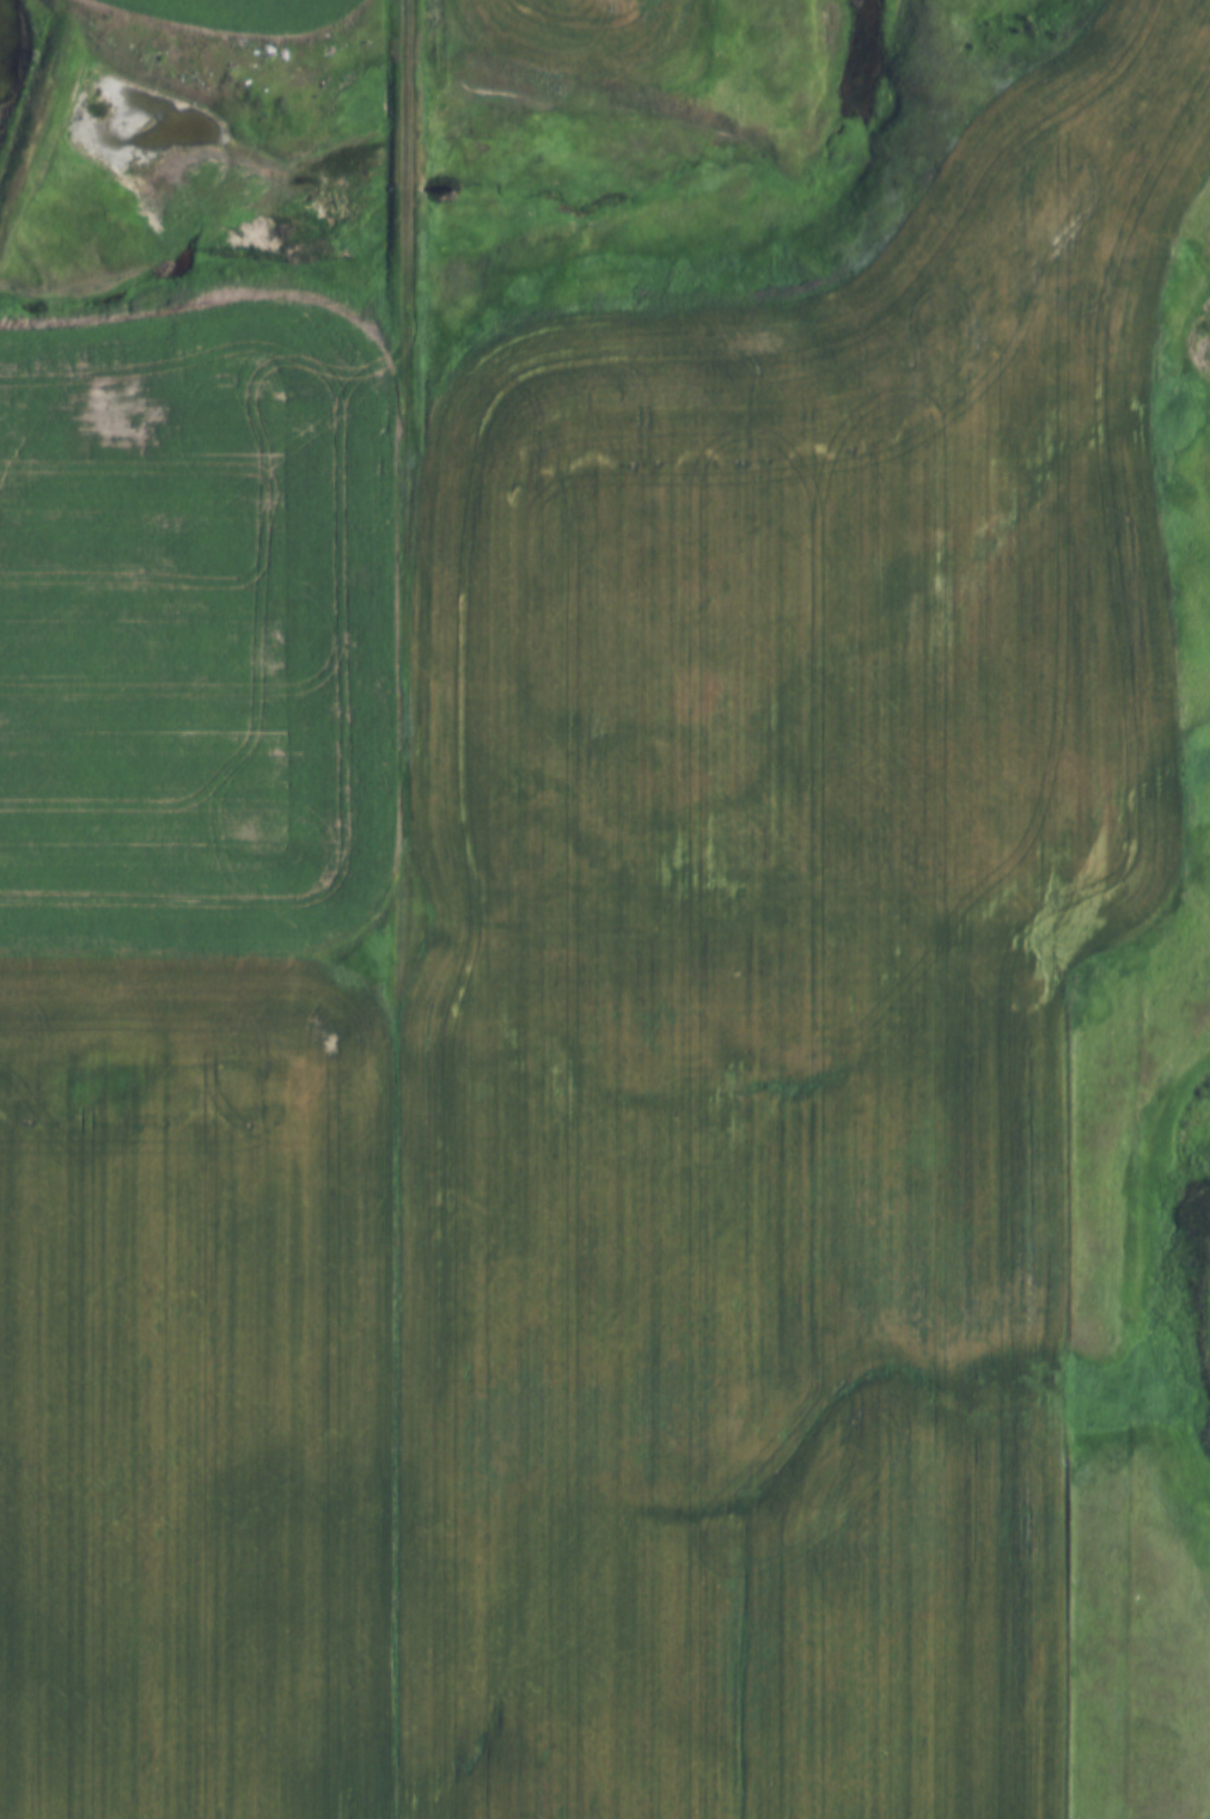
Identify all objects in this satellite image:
road: (405, 909)

